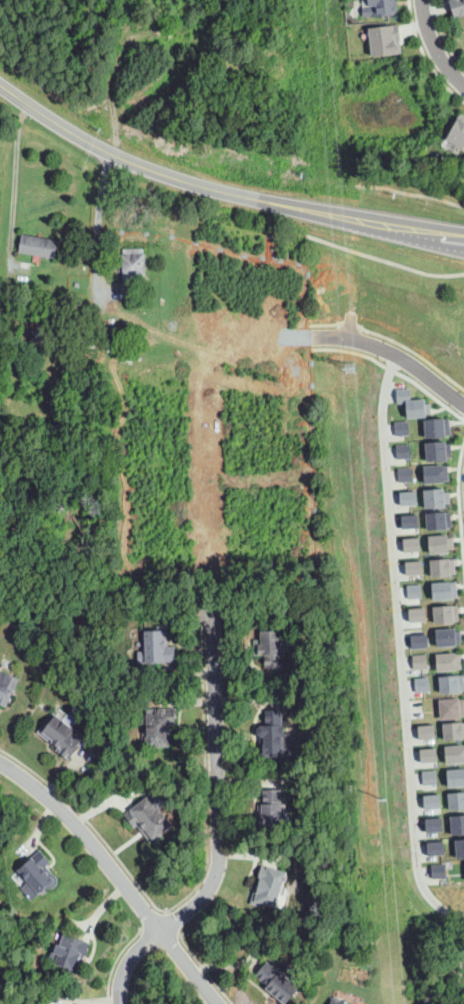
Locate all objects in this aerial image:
building: (378, 7)
building: (457, 7)
road: (442, 36)
building: (381, 38)
road: (434, 46)
road: (426, 55)
building: (454, 132)
road: (15, 177)
road: (221, 189)
road: (410, 194)
road: (97, 223)
building: (39, 247)
road: (384, 259)
building: (133, 266)
building: (73, 301)
building: (8, 303)
road: (349, 324)
road: (301, 325)
building: (37, 333)
road: (300, 338)
road: (224, 344)
building: (114, 346)
power tower: (350, 371)
building: (413, 401)
road: (463, 415)
building: (438, 426)
building: (404, 427)
building: (406, 452)
building: (440, 452)
building: (438, 474)
building: (408, 475)
building: (410, 498)
building: (438, 499)
road: (459, 499)
building: (441, 521)
building: (413, 522)
building: (442, 545)
building: (413, 546)
building: (417, 566)
building: (445, 567)
building: (417, 590)
building: (447, 591)
building: (448, 612)
building: (420, 613)
building: (450, 636)
building: (421, 642)
road: (399, 647)
building: (157, 648)
building: (270, 649)
building: (451, 659)
building: (422, 662)
building: (452, 684)
building: (424, 685)
road: (212, 686)
building: (7, 687)
building: (452, 708)
road: (205, 712)
building: (160, 727)
building: (456, 731)
building: (284, 732)
building: (430, 732)
building: (272, 734)
building: (61, 735)
building: (432, 755)
building: (457, 755)
power tower: (379, 767)
building: (433, 778)
building: (458, 778)
building: (459, 801)
building: (435, 802)
building: (272, 809)
building: (149, 819)
building: (436, 824)
building: (458, 825)
building: (439, 848)
building: (460, 849)
building: (442, 871)
building: (39, 873)
road: (117, 874)
building: (269, 887)
road: (122, 951)
building: (70, 952)
road: (198, 958)
building: (279, 982)
building: (341, 1001)

